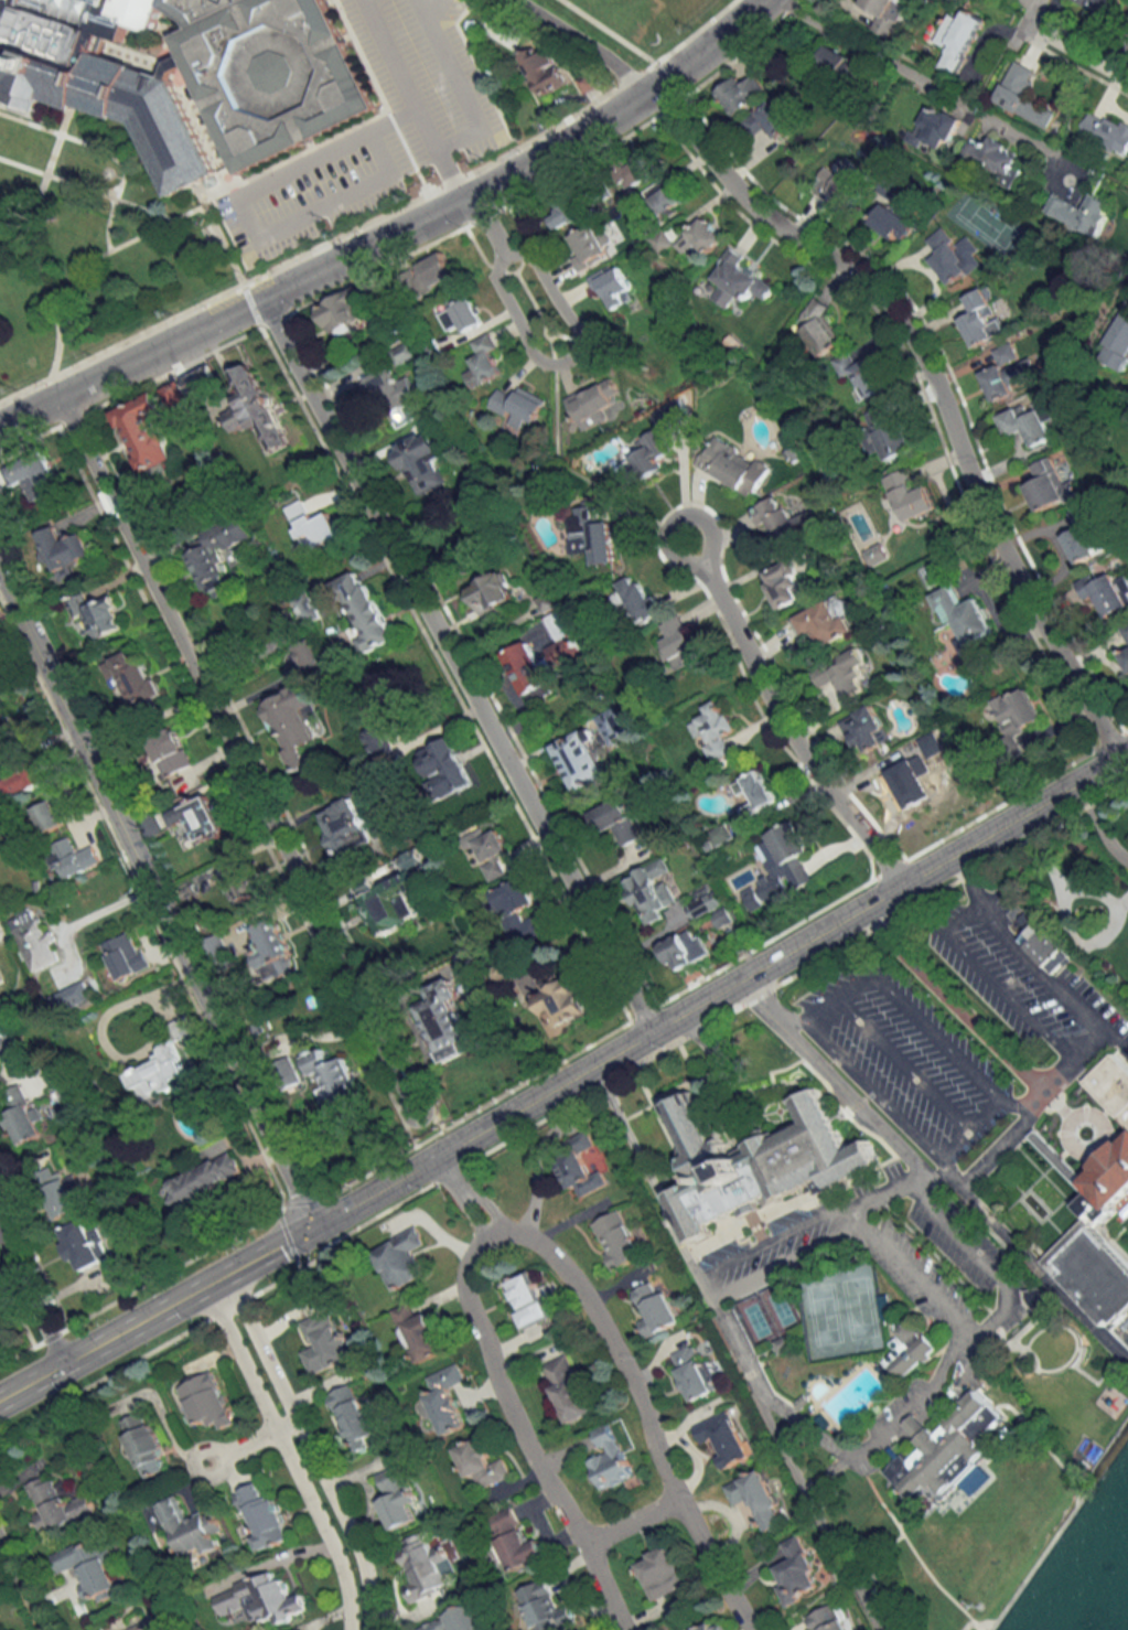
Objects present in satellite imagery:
road: (787, 6)
building: (1102, 7)
building: (885, 13)
building: (1127, 25)
road: (605, 30)
building: (957, 39)
road: (581, 41)
road: (892, 47)
road: (1076, 51)
road: (731, 54)
building: (171, 63)
building: (840, 64)
road: (992, 64)
building: (542, 69)
building: (268, 71)
building: (98, 75)
road: (665, 77)
road: (928, 83)
building: (741, 94)
building: (1022, 96)
road: (669, 101)
road: (620, 104)
road: (344, 122)
building: (765, 126)
building: (935, 128)
building: (1106, 130)
road: (444, 142)
road: (577, 158)
building: (995, 160)
building: (631, 169)
road: (445, 174)
building: (839, 191)
building: (663, 200)
road: (244, 212)
building: (565, 212)
road: (481, 213)
building: (1082, 213)
road: (374, 217)
building: (892, 223)
road: (217, 230)
building: (700, 237)
building: (660, 242)
road: (365, 244)
building: (589, 245)
building: (950, 257)
road: (89, 261)
road: (376, 265)
building: (430, 274)
building: (737, 280)
building: (614, 287)
road: (249, 302)
building: (341, 314)
building: (462, 315)
road: (271, 317)
building: (981, 319)
building: (818, 328)
road: (157, 343)
building: (1118, 343)
building: (405, 353)
road: (536, 356)
building: (482, 362)
road: (168, 366)
building: (201, 380)
building: (998, 383)
road: (928, 386)
building: (390, 392)
building: (174, 394)
building: (593, 404)
road: (28, 405)
building: (517, 405)
building: (255, 409)
road: (67, 415)
building: (1027, 422)
building: (890, 431)
road: (29, 433)
building: (147, 436)
building: (646, 458)
building: (422, 461)
building: (733, 467)
building: (32, 475)
building: (1049, 484)
building: (905, 493)
building: (782, 522)
building: (313, 527)
building: (590, 534)
building: (1084, 543)
building: (65, 548)
building: (219, 555)
building: (784, 583)
building: (492, 591)
building: (1107, 591)
building: (638, 599)
building: (365, 611)
building: (299, 613)
building: (98, 614)
building: (965, 615)
building: (824, 623)
building: (558, 624)
building: (1125, 632)
building: (677, 640)
building: (309, 654)
building: (1125, 657)
road: (454, 662)
building: (528, 672)
building: (844, 675)
building: (133, 678)
building: (2, 682)
building: (1018, 711)
road: (780, 718)
building: (294, 723)
building: (613, 727)
building: (715, 729)
building: (866, 729)
road: (234, 749)
building: (171, 755)
building: (581, 759)
building: (447, 768)
building: (25, 778)
building: (910, 781)
building: (756, 792)
building: (47, 815)
building: (200, 818)
building: (620, 822)
road: (1098, 823)
building: (152, 825)
building: (347, 830)
building: (720, 835)
road: (971, 841)
building: (491, 852)
building: (71, 857)
building: (780, 866)
road: (965, 876)
building: (239, 882)
building: (652, 890)
road: (153, 898)
building: (391, 901)
building: (711, 907)
building: (518, 913)
road: (962, 914)
building: (34, 939)
building: (271, 944)
building: (1045, 947)
building: (685, 948)
building: (219, 954)
building: (126, 955)
road: (1052, 978)
road: (732, 980)
road: (1006, 990)
road: (948, 991)
road: (901, 995)
building: (73, 997)
building: (561, 1005)
building: (444, 1023)
road: (702, 1033)
building: (6, 1047)
building: (159, 1074)
road: (834, 1074)
building: (334, 1081)
building: (1111, 1085)
road: (869, 1087)
road: (1012, 1098)
building: (20, 1115)
road: (480, 1128)
building: (756, 1152)
road: (438, 1154)
building: (578, 1165)
road: (535, 1169)
building: (203, 1181)
building: (1107, 1183)
building: (62, 1193)
road: (810, 1220)
road: (673, 1225)
traffic signals: (308, 1227)
road: (491, 1229)
building: (616, 1240)
building: (83, 1245)
road: (977, 1253)
building: (400, 1258)
road: (1030, 1262)
road: (910, 1265)
building: (1091, 1270)
road: (31, 1297)
building: (528, 1299)
building: (887, 1306)
park: (782, 1307)
building: (654, 1308)
road: (153, 1311)
park: (841, 1311)
park: (758, 1319)
building: (418, 1333)
building: (323, 1342)
building: (784, 1344)
building: (906, 1345)
building: (694, 1372)
building: (568, 1388)
building: (445, 1398)
building: (205, 1401)
road: (643, 1411)
building: (355, 1417)
road: (528, 1434)
road: (873, 1435)
building: (724, 1437)
building: (144, 1444)
building: (938, 1446)
road: (309, 1447)
road: (243, 1448)
road: (287, 1454)
building: (609, 1458)
building: (481, 1463)
building: (977, 1481)
building: (397, 1497)
building: (758, 1499)
building: (57, 1505)
road: (816, 1512)
building: (262, 1515)
road: (633, 1522)
building: (193, 1527)
building: (515, 1541)
building: (423, 1566)
building: (88, 1568)
building: (663, 1572)
building: (797, 1573)
road: (20, 1586)
building: (261, 1598)
building: (547, 1608)
building: (829, 1618)
building: (456, 1620)
building: (141, 1627)
building: (716, 1627)

